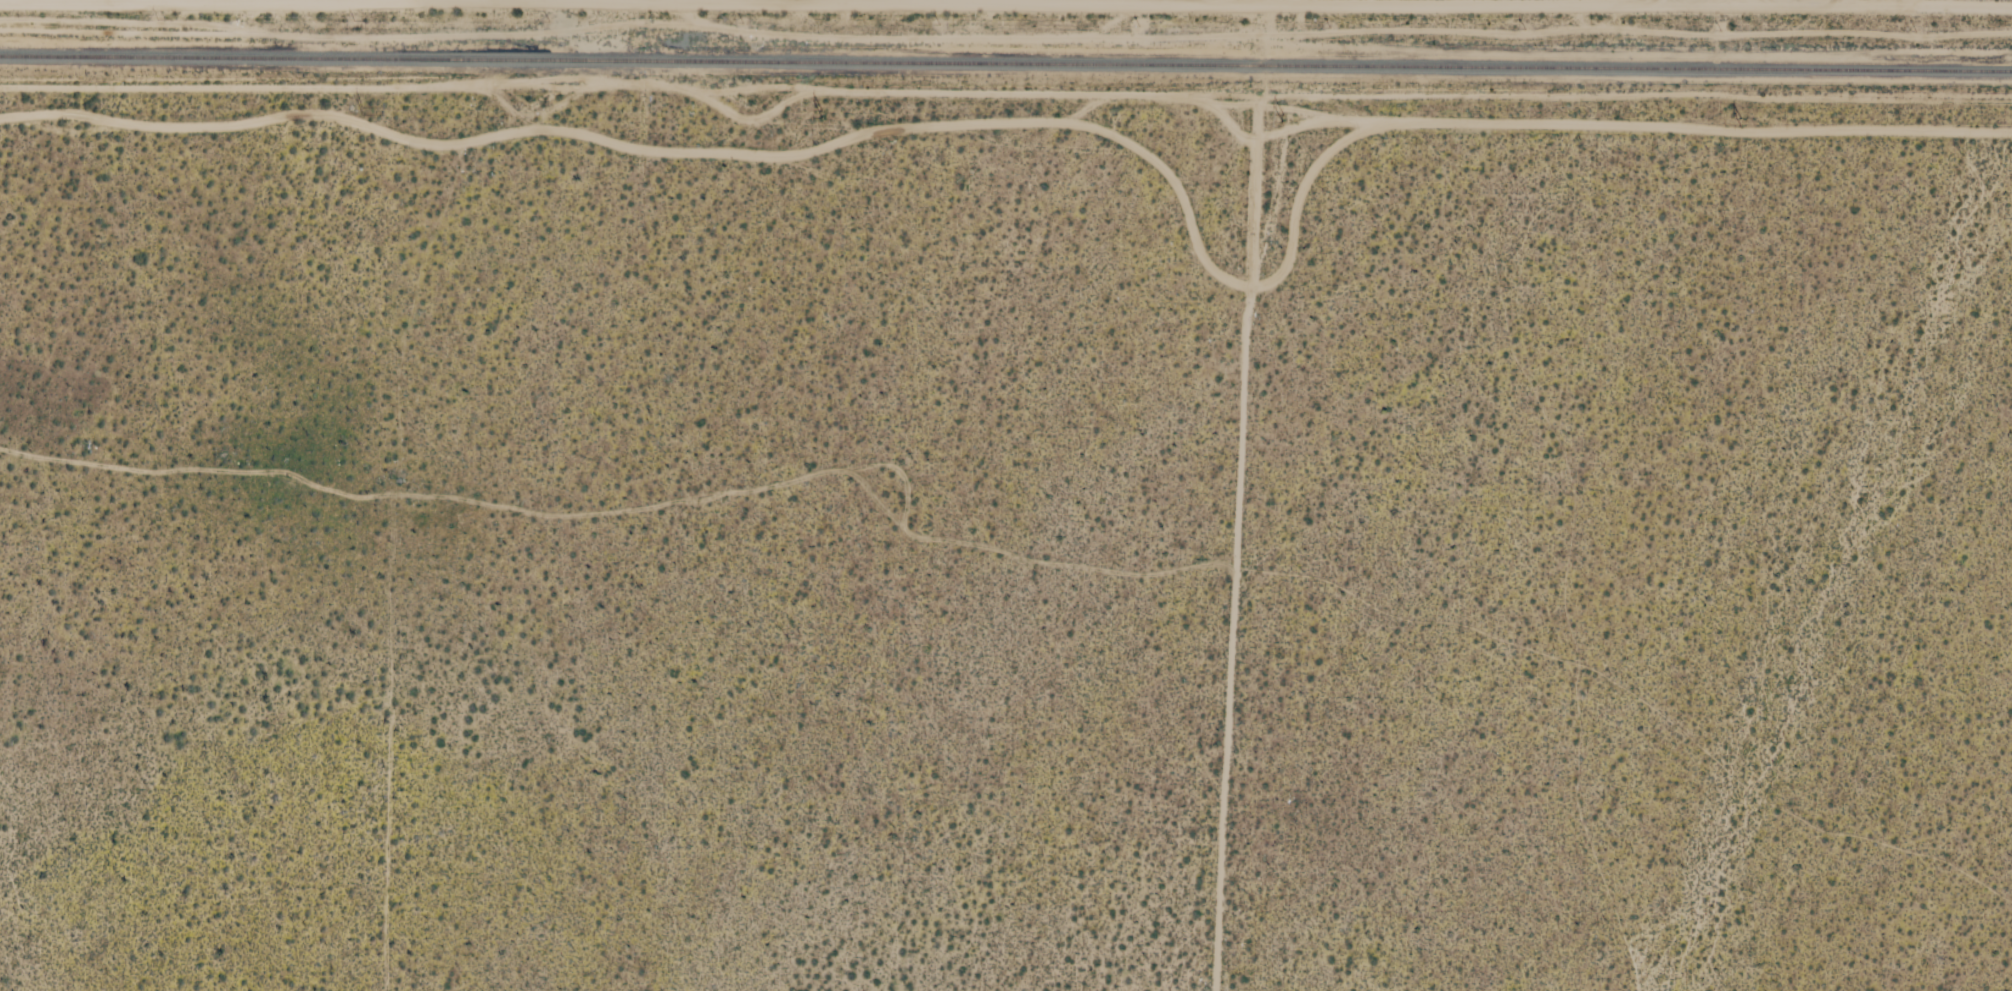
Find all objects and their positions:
road: (1288, 3)
road: (1841, 3)
road: (762, 6)
railway: (1006, 61)
power tower: (363, 114)
power tower: (820, 119)
power tower: (1293, 122)
power tower: (1747, 122)
road: (1236, 494)

